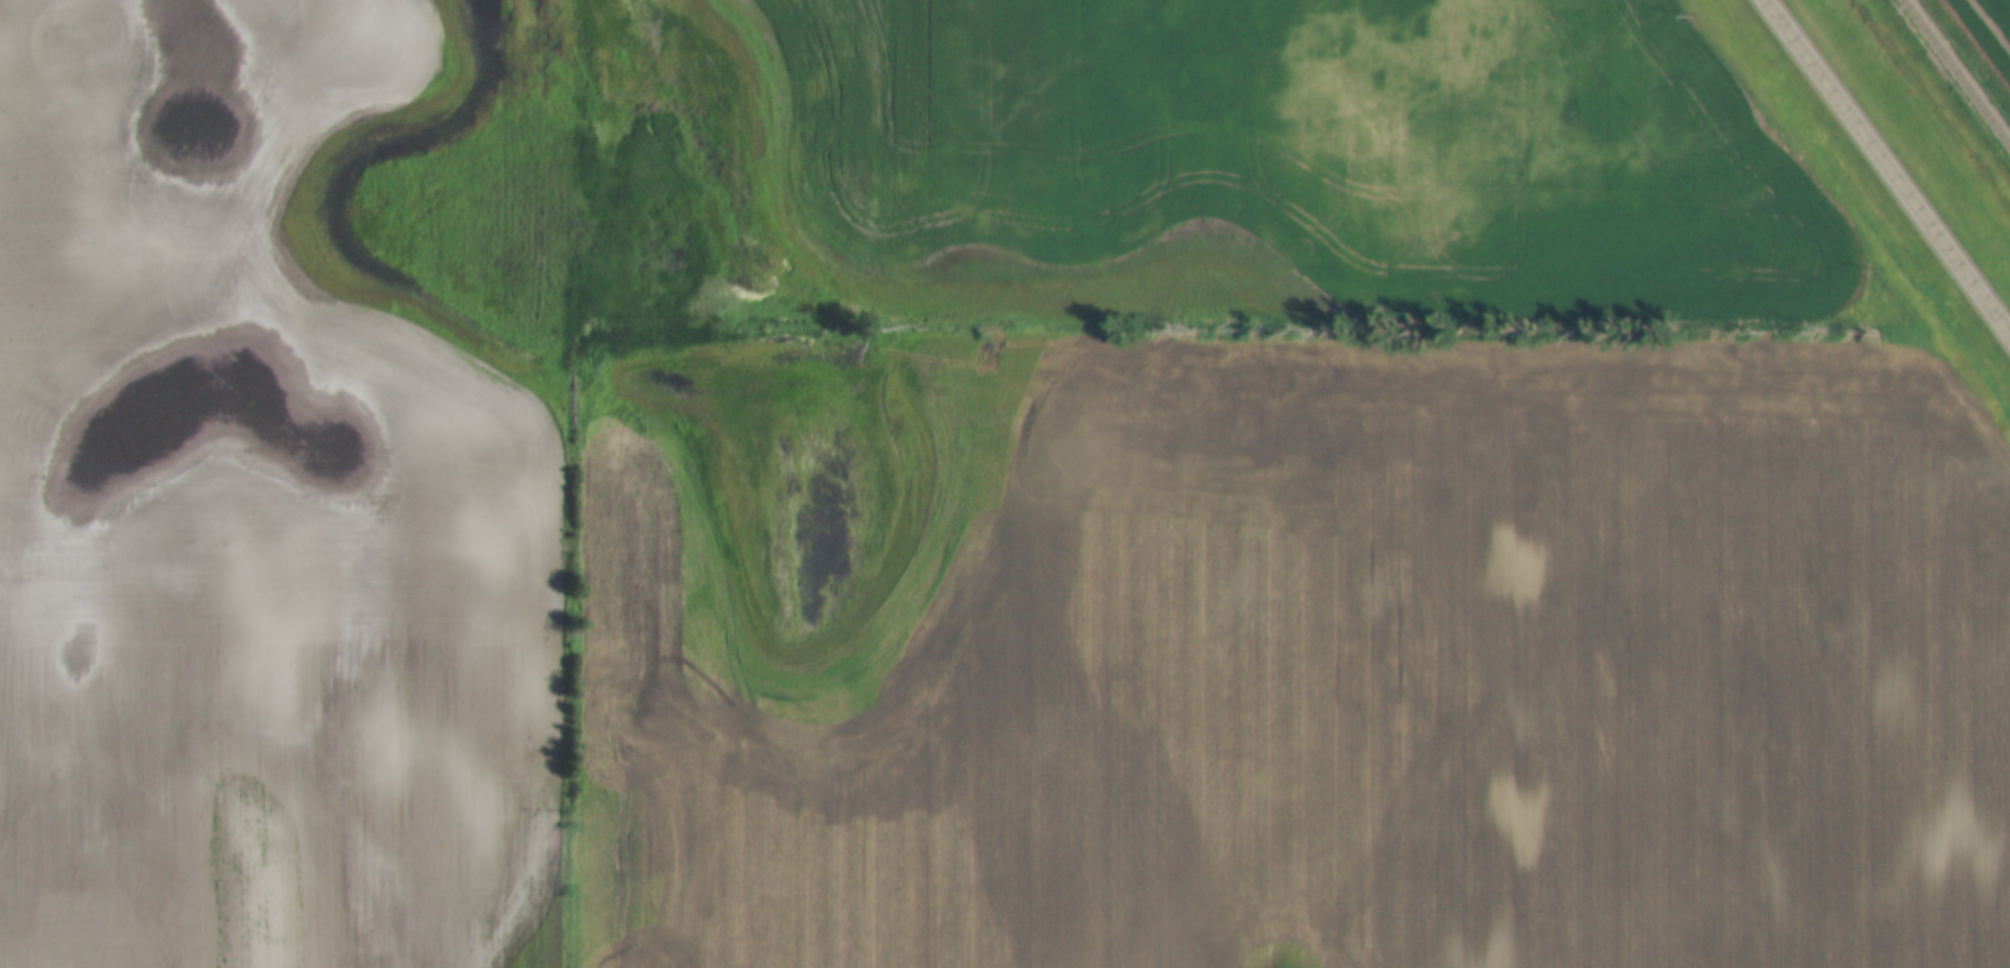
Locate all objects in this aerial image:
railway: (1955, 73)
road: (1886, 167)

